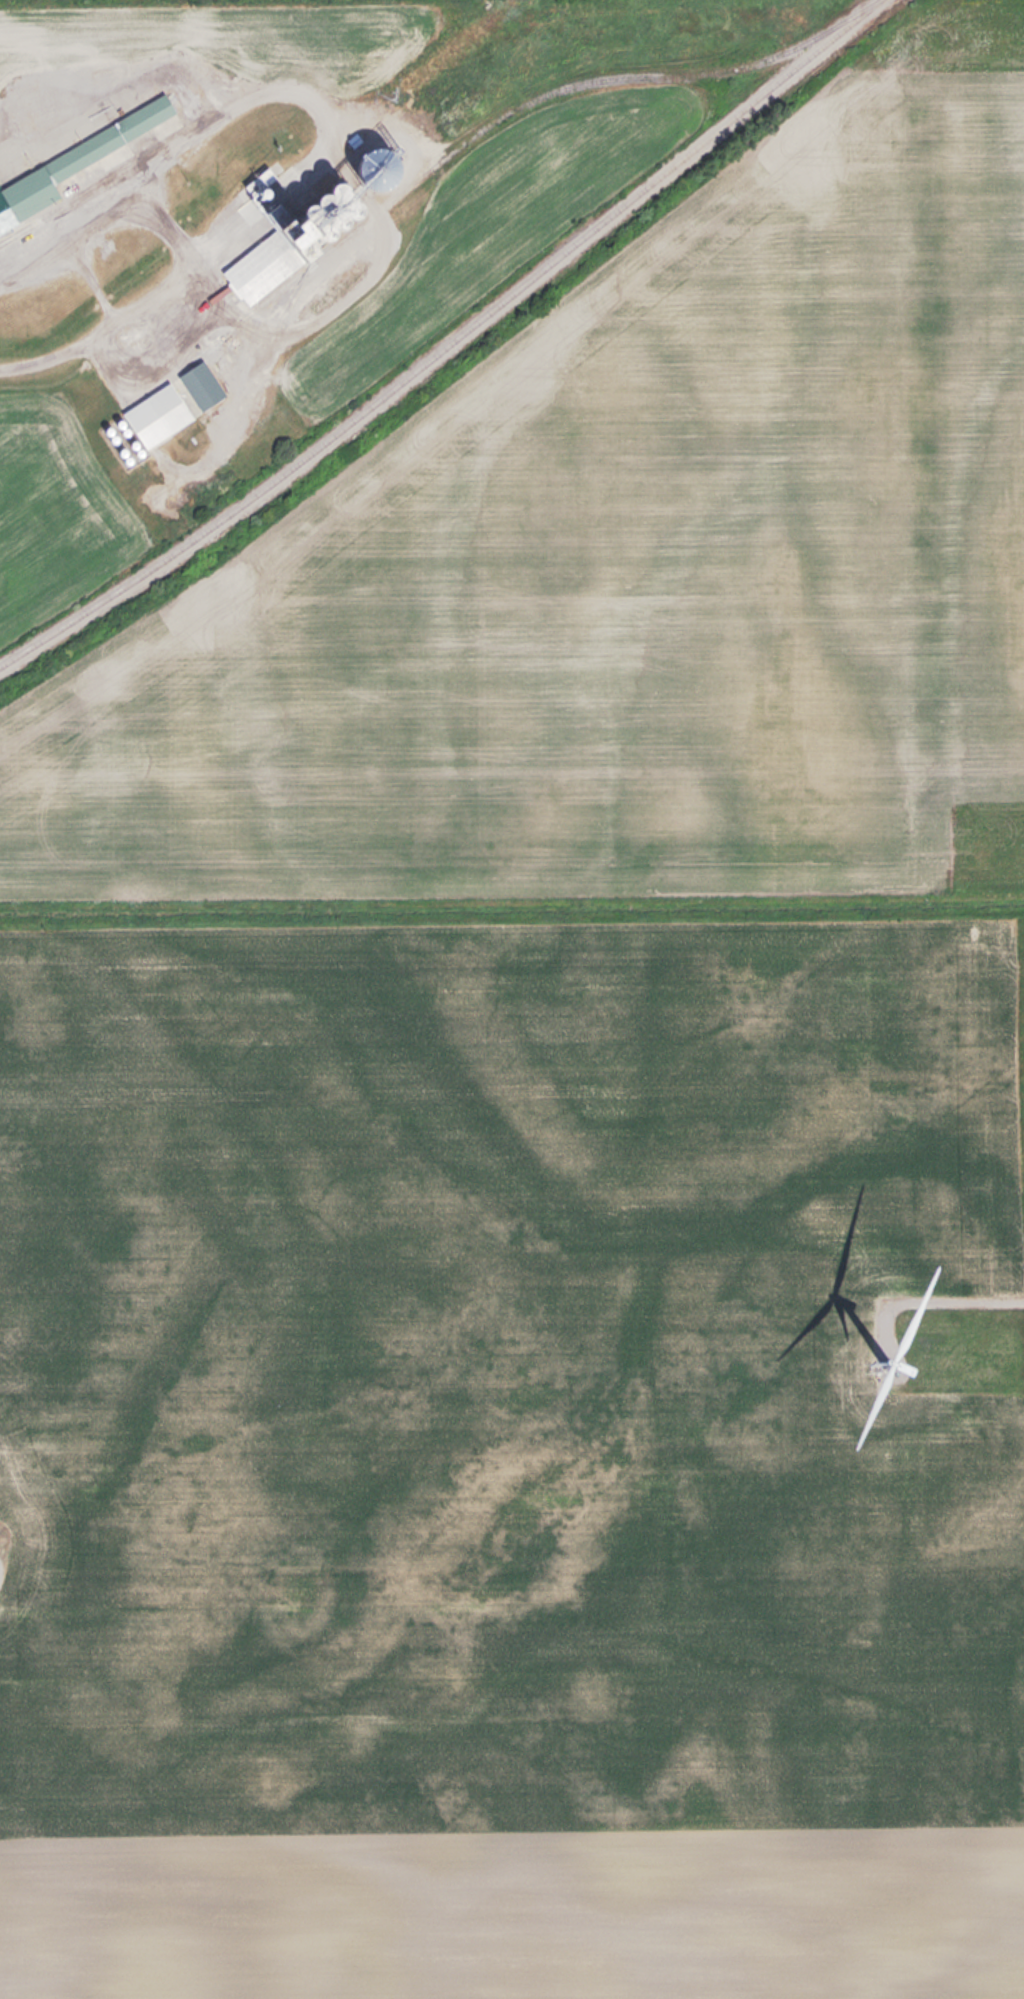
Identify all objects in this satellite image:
railway: (515, 109)
building: (75, 164)
building: (311, 232)
railway: (450, 346)
building: (204, 385)
building: (160, 415)
road: (982, 1288)
wind turbine: (890, 1359)

